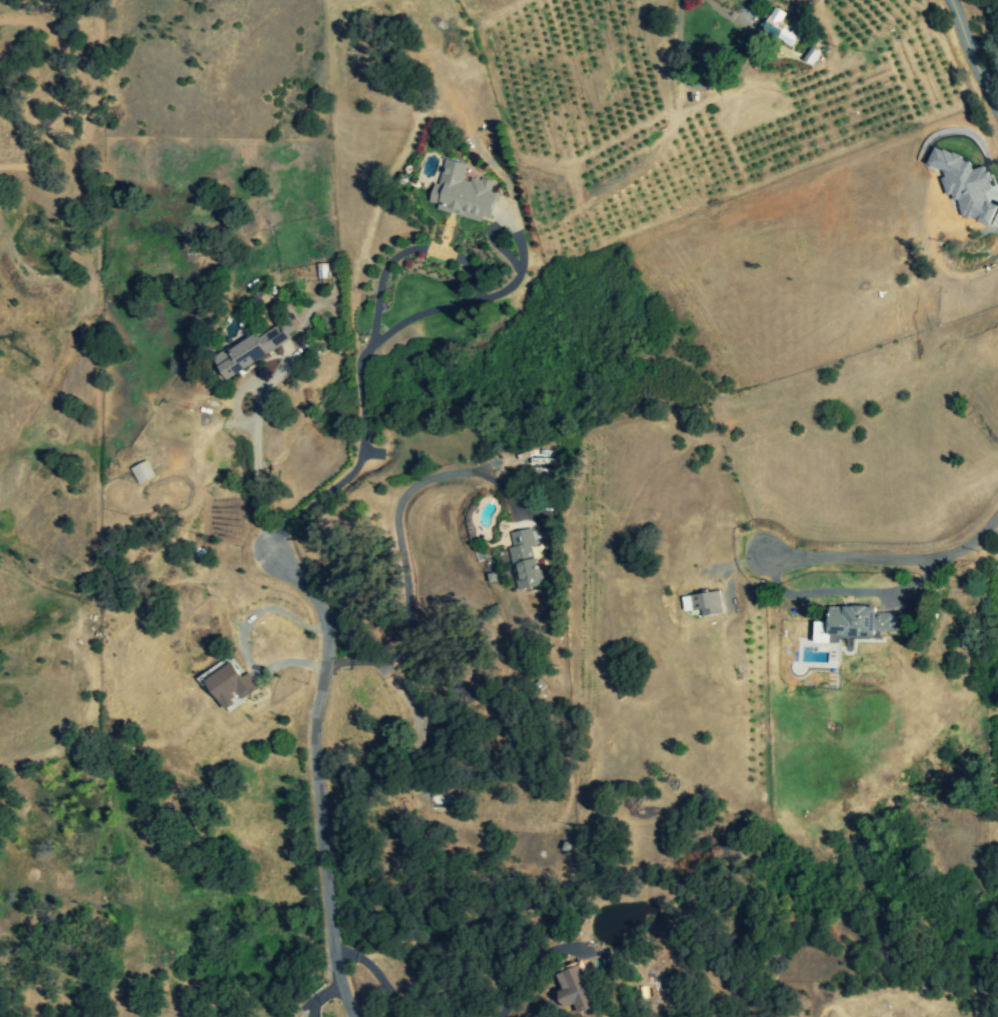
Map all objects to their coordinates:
building: (777, 28)
building: (811, 56)
road: (973, 59)
road: (678, 60)
building: (708, 60)
building: (462, 192)
building: (321, 270)
building: (252, 349)
road: (359, 364)
road: (250, 470)
building: (142, 472)
road: (399, 550)
building: (524, 559)
road: (888, 560)
building: (703, 603)
building: (861, 621)
road: (241, 637)
building: (212, 671)
building: (231, 686)
road: (313, 774)
building: (575, 989)

